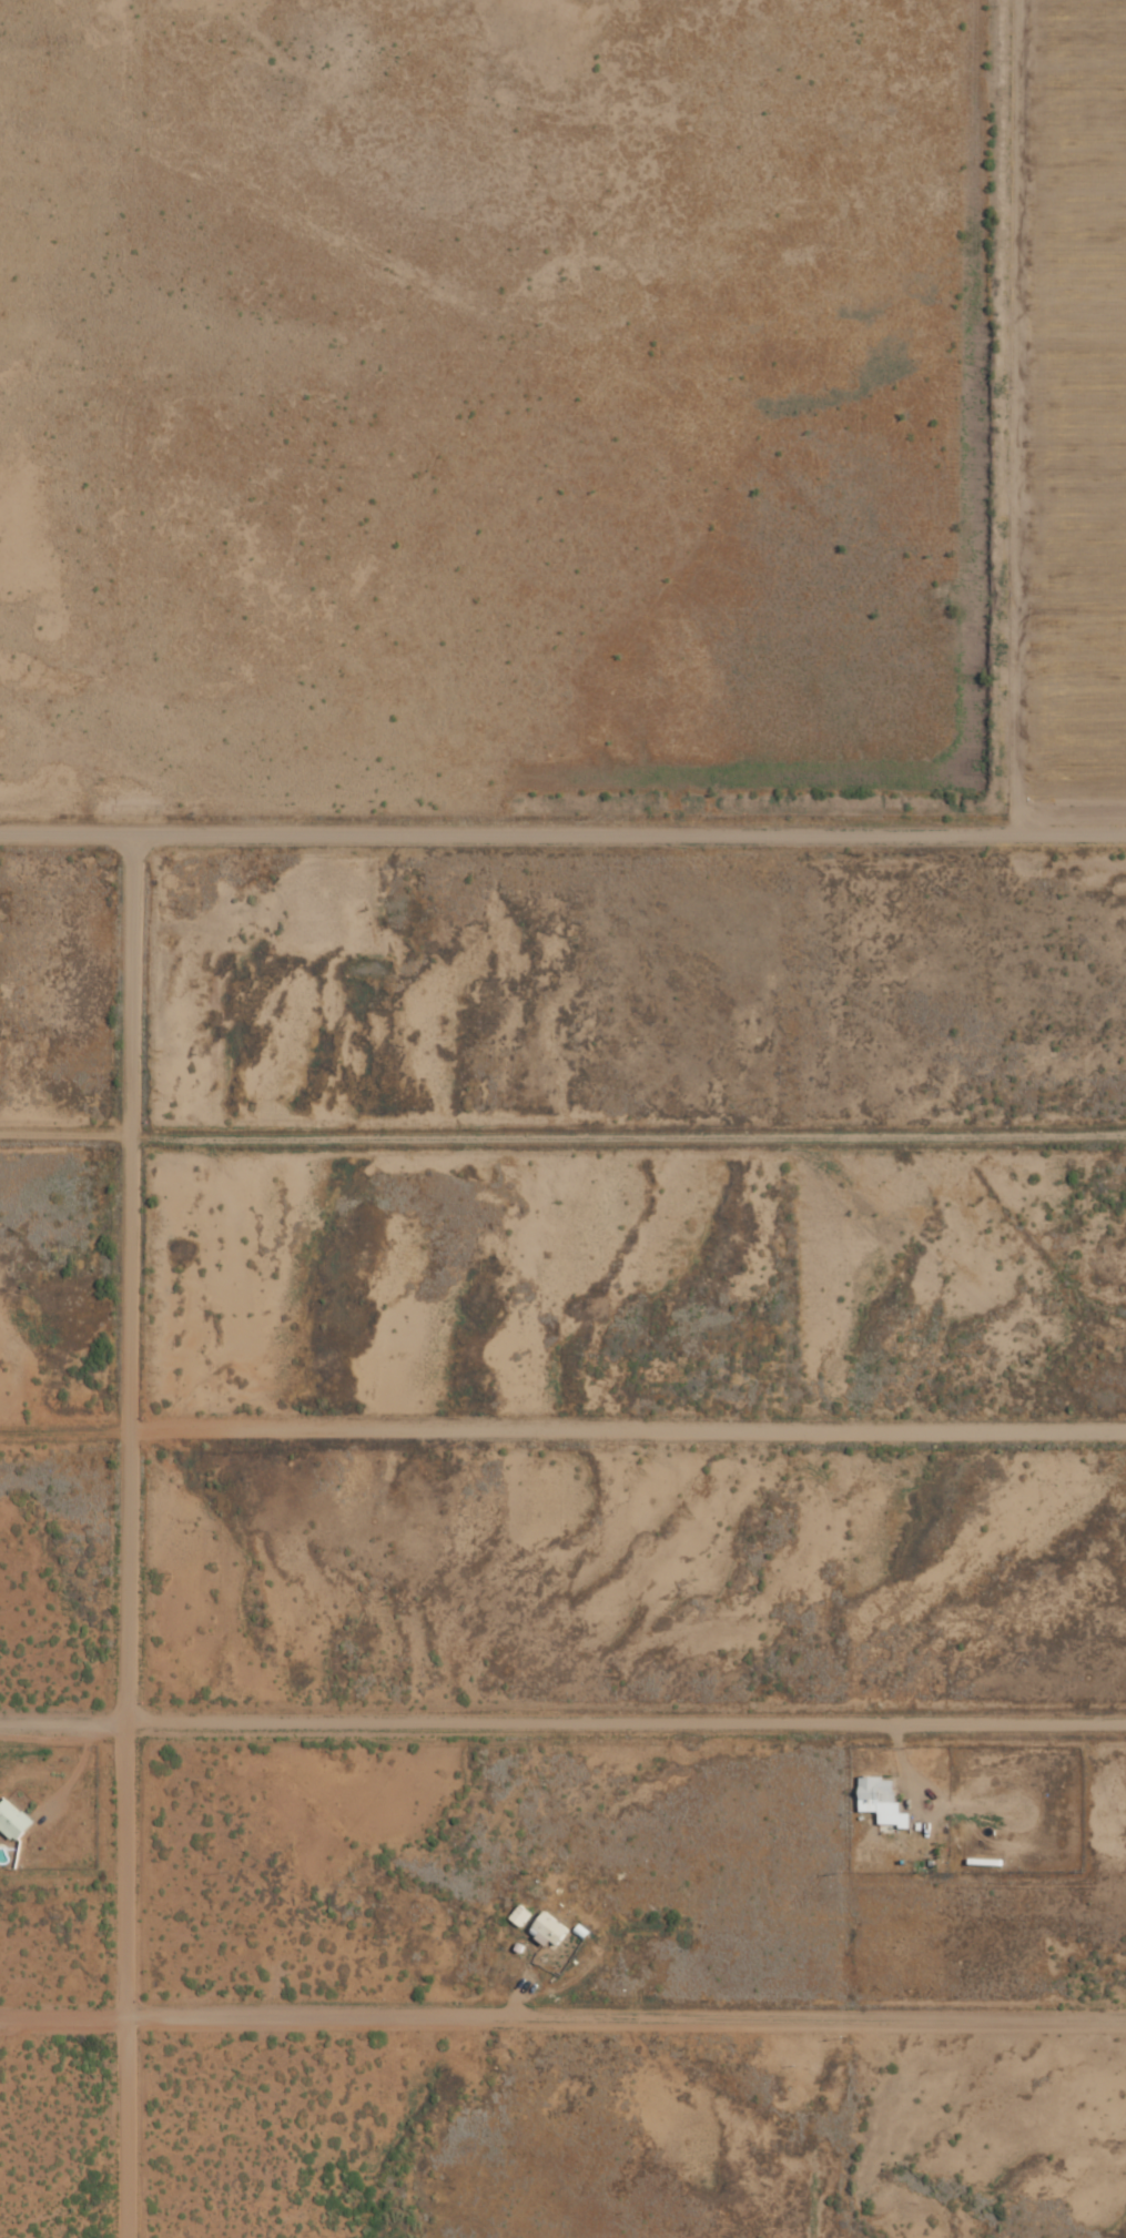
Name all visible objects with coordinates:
road: (1005, 402)
road: (562, 818)
road: (562, 1126)
road: (562, 1424)
road: (131, 1536)
road: (562, 1717)
building: (879, 1801)
road: (562, 2008)

